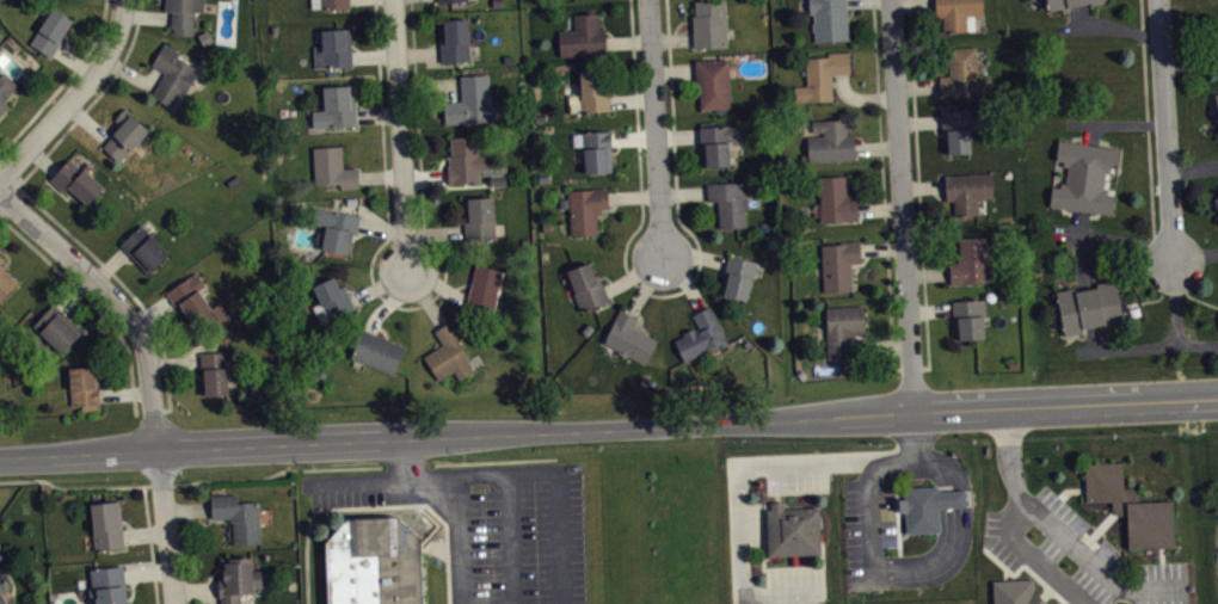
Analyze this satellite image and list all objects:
building: (63, 0)
building: (583, 0)
building: (1094, 0)
building: (330, 2)
road: (911, 2)
building: (455, 4)
building: (1059, 4)
building: (183, 13)
building: (958, 13)
road: (146, 14)
road: (1081, 14)
building: (829, 18)
building: (709, 23)
road: (1109, 27)
building: (51, 29)
building: (583, 35)
road: (671, 36)
building: (454, 38)
road: (628, 39)
building: (333, 47)
road: (418, 53)
road: (374, 54)
road: (74, 61)
road: (1189, 62)
road: (673, 68)
building: (962, 72)
building: (172, 73)
building: (822, 74)
road: (131, 76)
building: (713, 80)
road: (62, 82)
road: (431, 82)
road: (916, 84)
building: (592, 90)
building: (5, 91)
road: (73, 97)
road: (860, 97)
building: (1216, 98)
road: (92, 99)
building: (470, 99)
road: (632, 99)
building: (336, 106)
road: (377, 113)
road: (918, 119)
road: (87, 121)
road: (1115, 122)
road: (654, 127)
building: (956, 127)
road: (1165, 128)
road: (1148, 129)
road: (1090, 131)
building: (125, 132)
road: (400, 134)
road: (677, 134)
road: (633, 136)
building: (830, 138)
building: (716, 142)
road: (876, 146)
building: (597, 149)
road: (42, 159)
building: (466, 159)
building: (333, 166)
road: (1193, 166)
road: (11, 168)
road: (380, 174)
building: (1084, 174)
road: (425, 175)
building: (76, 178)
road: (922, 184)
building: (967, 189)
road: (884, 191)
road: (683, 192)
road: (918, 192)
road: (7, 193)
road: (633, 195)
building: (835, 198)
building: (730, 201)
road: (900, 204)
building: (584, 207)
road: (879, 207)
building: (479, 216)
building: (336, 224)
road: (382, 227)
road: (435, 232)
road: (1112, 239)
building: (144, 246)
road: (881, 247)
road: (1079, 248)
road: (695, 254)
road: (1195, 254)
building: (1, 258)
building: (970, 259)
building: (838, 261)
road: (109, 263)
road: (634, 272)
road: (925, 272)
building: (738, 276)
road: (684, 278)
building: (6, 281)
road: (438, 282)
road: (380, 284)
building: (586, 284)
road: (647, 284)
road: (127, 288)
building: (484, 289)
road: (74, 291)
road: (663, 294)
road: (425, 295)
building: (331, 297)
building: (196, 298)
road: (390, 300)
road: (92, 301)
building: (1090, 306)
road: (408, 307)
road: (929, 308)
road: (150, 309)
building: (968, 315)
building: (57, 326)
building: (842, 326)
building: (701, 333)
building: (629, 337)
road: (1094, 338)
road: (879, 344)
road: (1168, 344)
road: (1198, 345)
building: (376, 349)
building: (449, 349)
road: (174, 362)
road: (149, 369)
building: (214, 370)
building: (85, 386)
road: (124, 392)
road: (609, 427)
road: (404, 460)
road: (496, 460)
road: (939, 464)
parking lot: (796, 470)
road: (868, 475)
road: (448, 480)
road: (190, 481)
road: (558, 487)
parking lot: (355, 488)
road: (737, 488)
road: (951, 495)
building: (928, 504)
building: (1131, 505)
road: (374, 506)
road: (187, 507)
building: (238, 514)
building: (106, 523)
parking lot: (745, 525)
building: (793, 526)
parking lot: (866, 529)
road: (1057, 531)
road: (144, 532)
parking lot: (528, 534)
road: (511, 538)
parking lot: (1217, 542)
road: (150, 543)
road: (433, 548)
parking lot: (1075, 554)
road: (1034, 556)
building: (373, 561)
road: (935, 561)
road: (146, 571)
building: (236, 578)
building: (107, 584)
parking lot: (791, 586)
road: (195, 587)
building: (1014, 591)
building: (2, 597)
building: (1057, 603)

